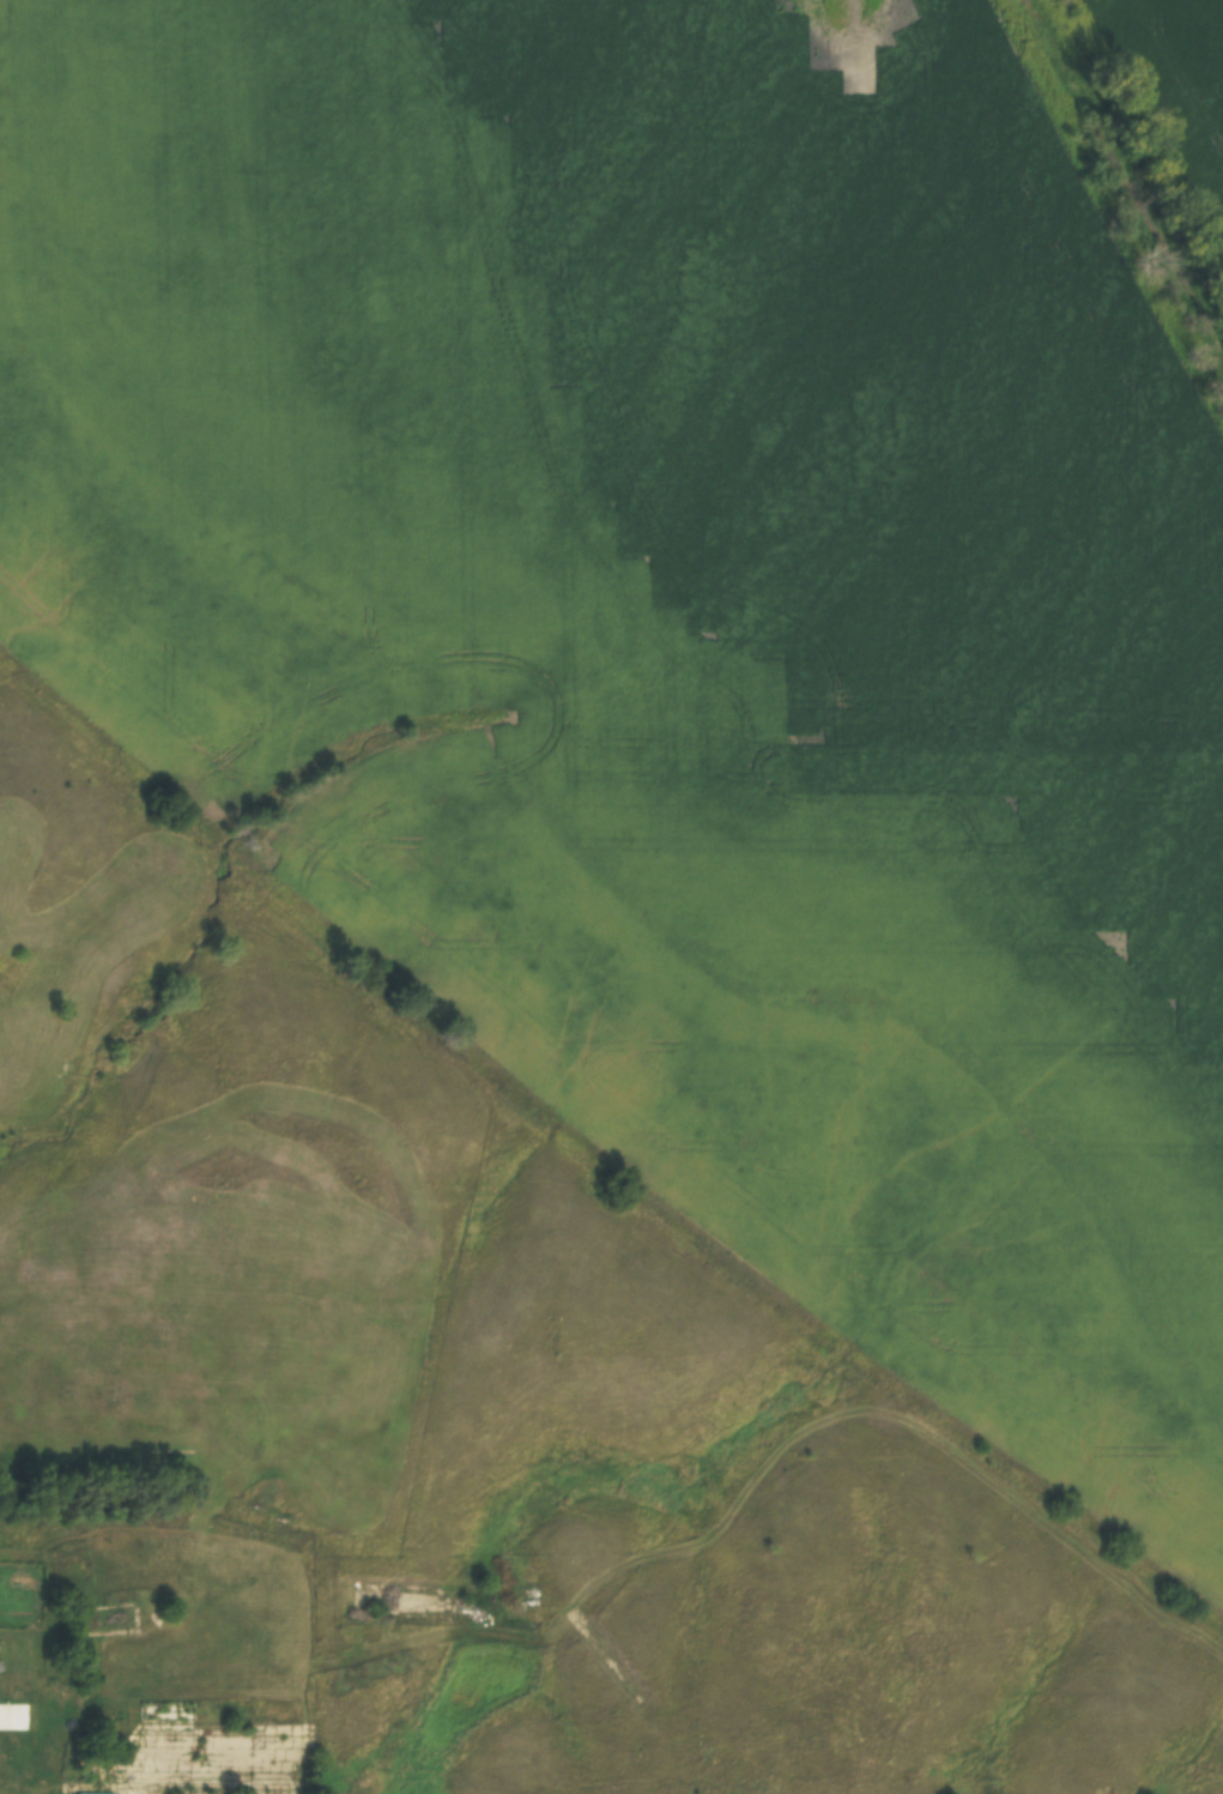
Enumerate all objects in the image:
building: (164, 1708)
building: (44, 1716)
building: (91, 1792)

